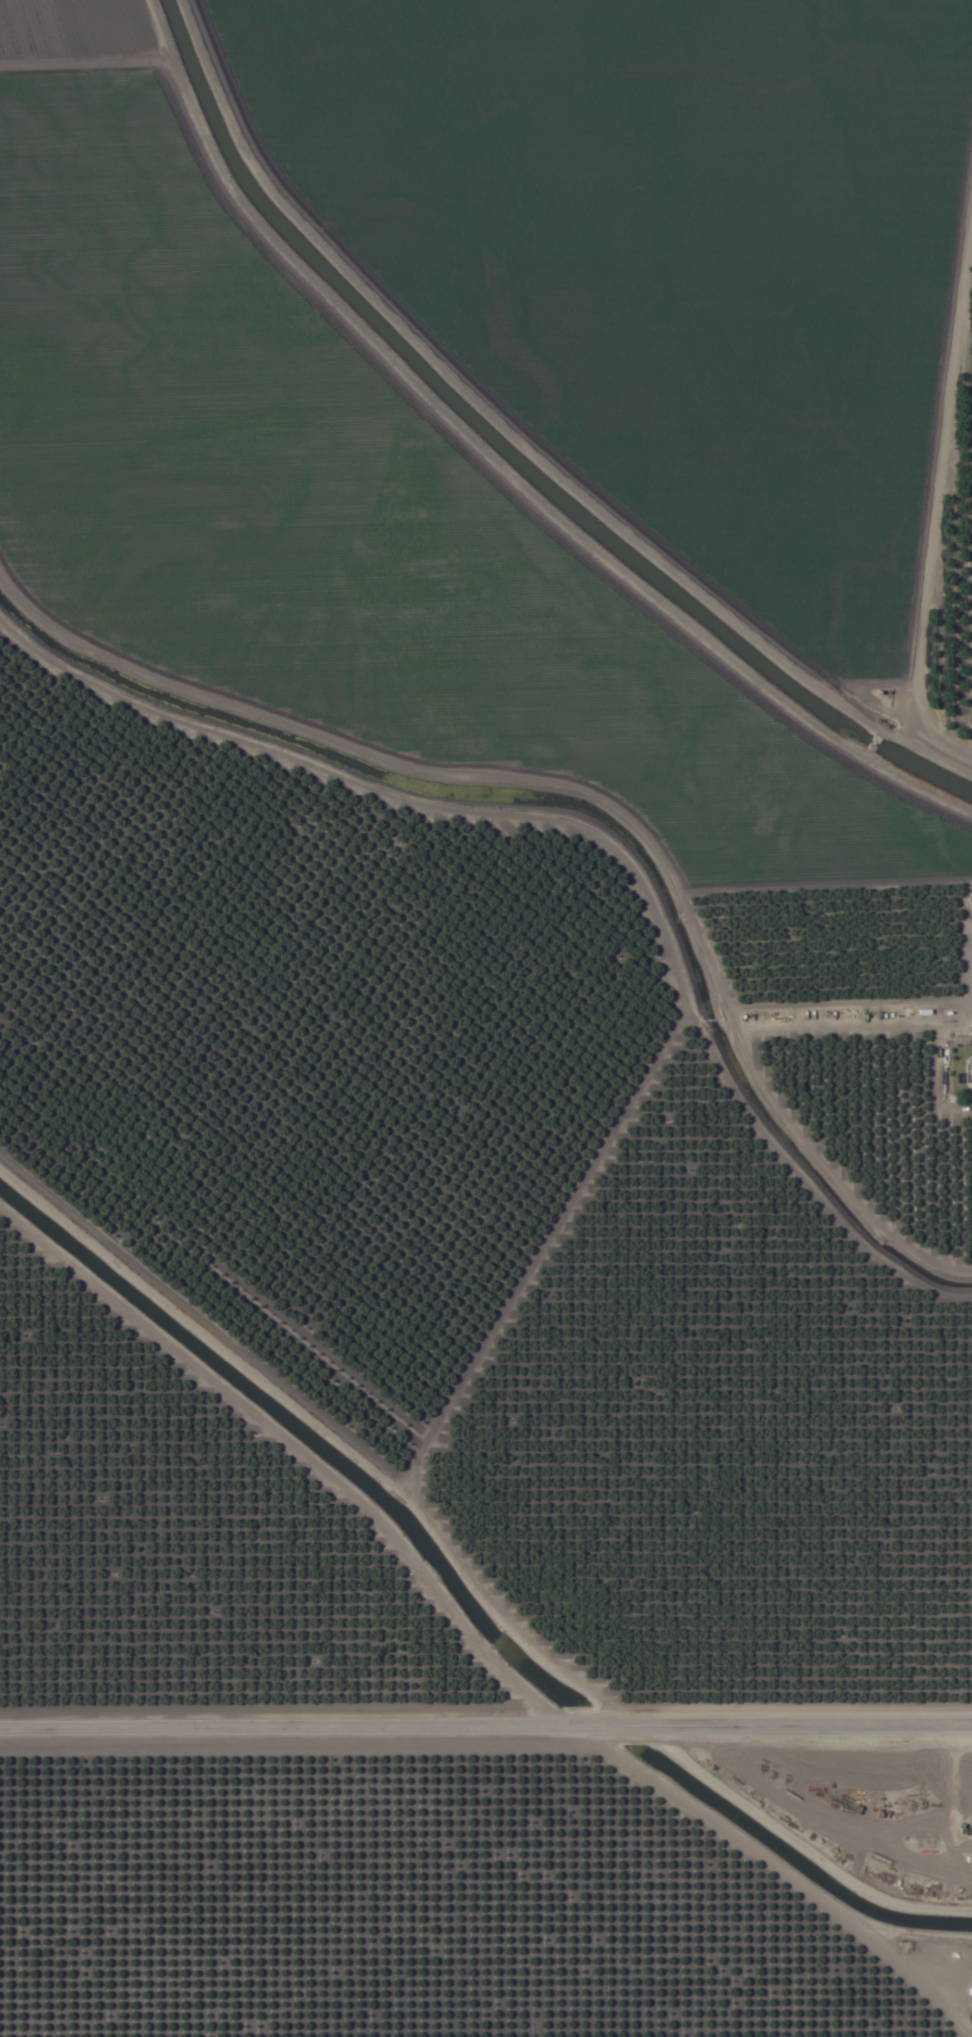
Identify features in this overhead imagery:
building: (10, 728)
building: (145, 817)
building: (274, 891)
building: (430, 987)
crop: (486, 1018)
building: (968, 1079)
building: (255, 1157)
road: (486, 1715)
building: (924, 1805)

